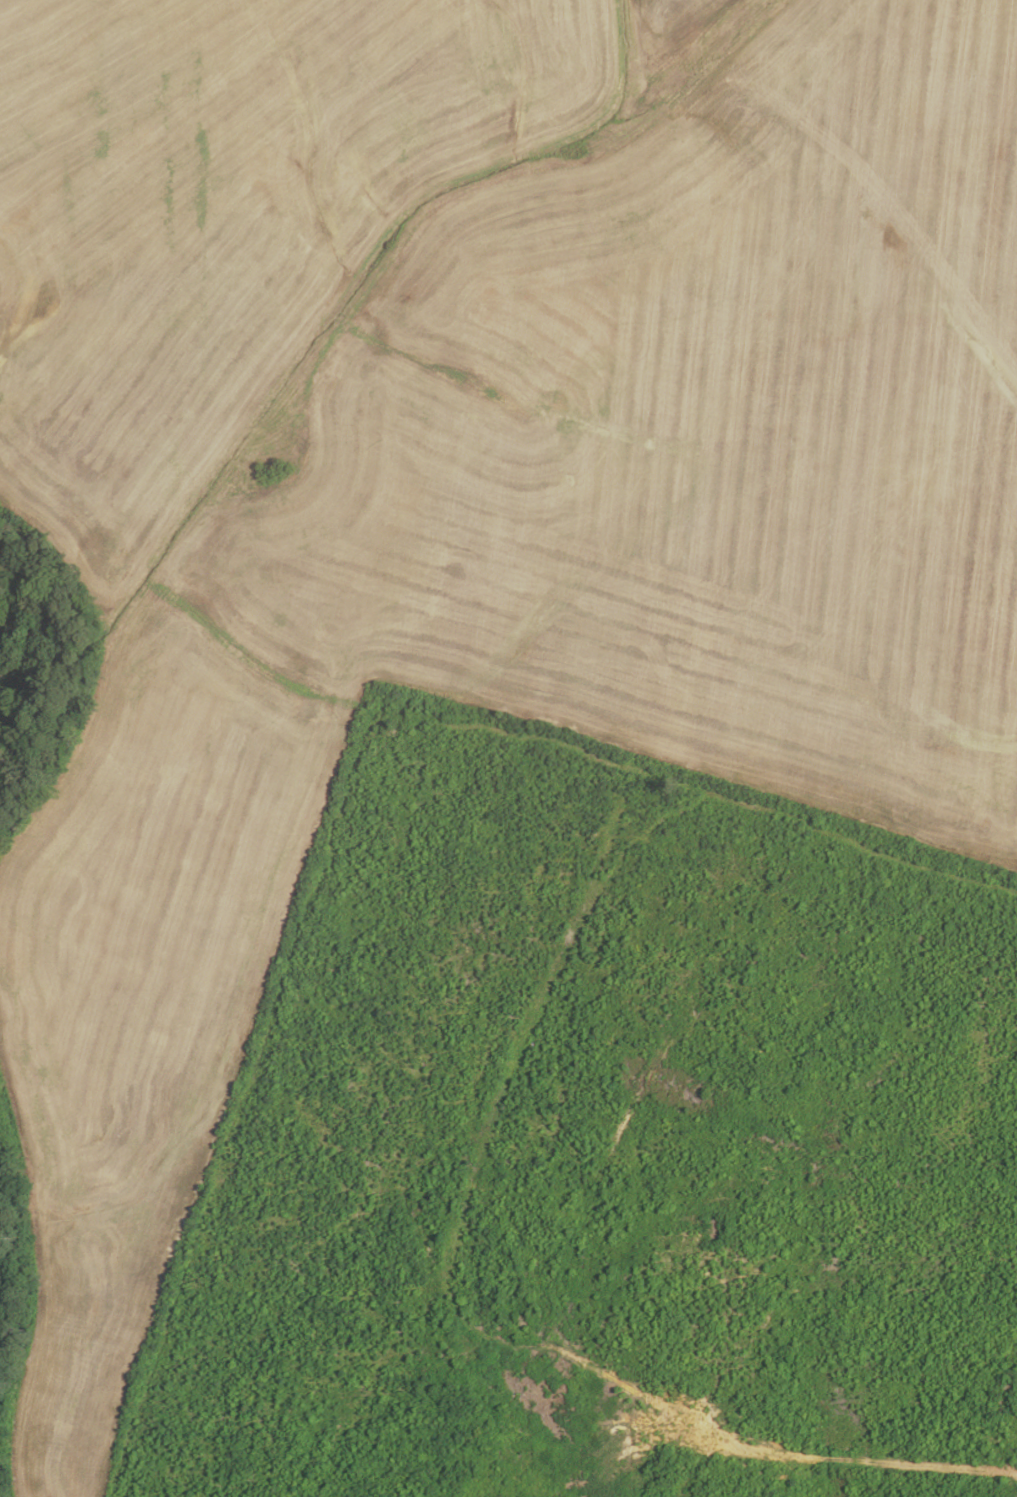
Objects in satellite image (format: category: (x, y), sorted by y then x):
crop: (467, 485)

